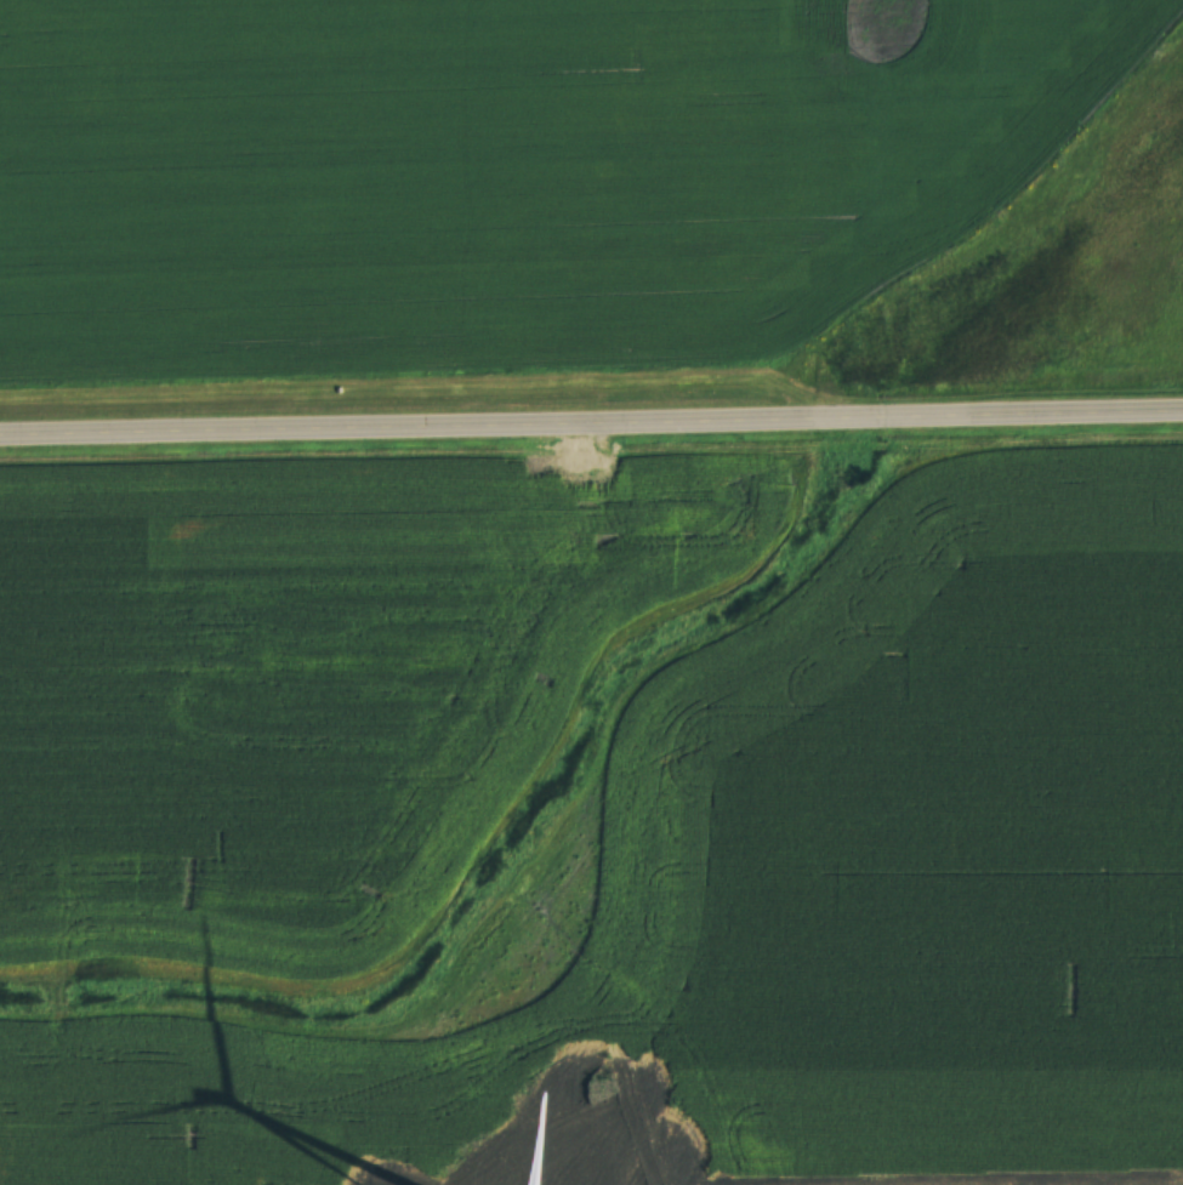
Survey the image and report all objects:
road: (591, 434)

